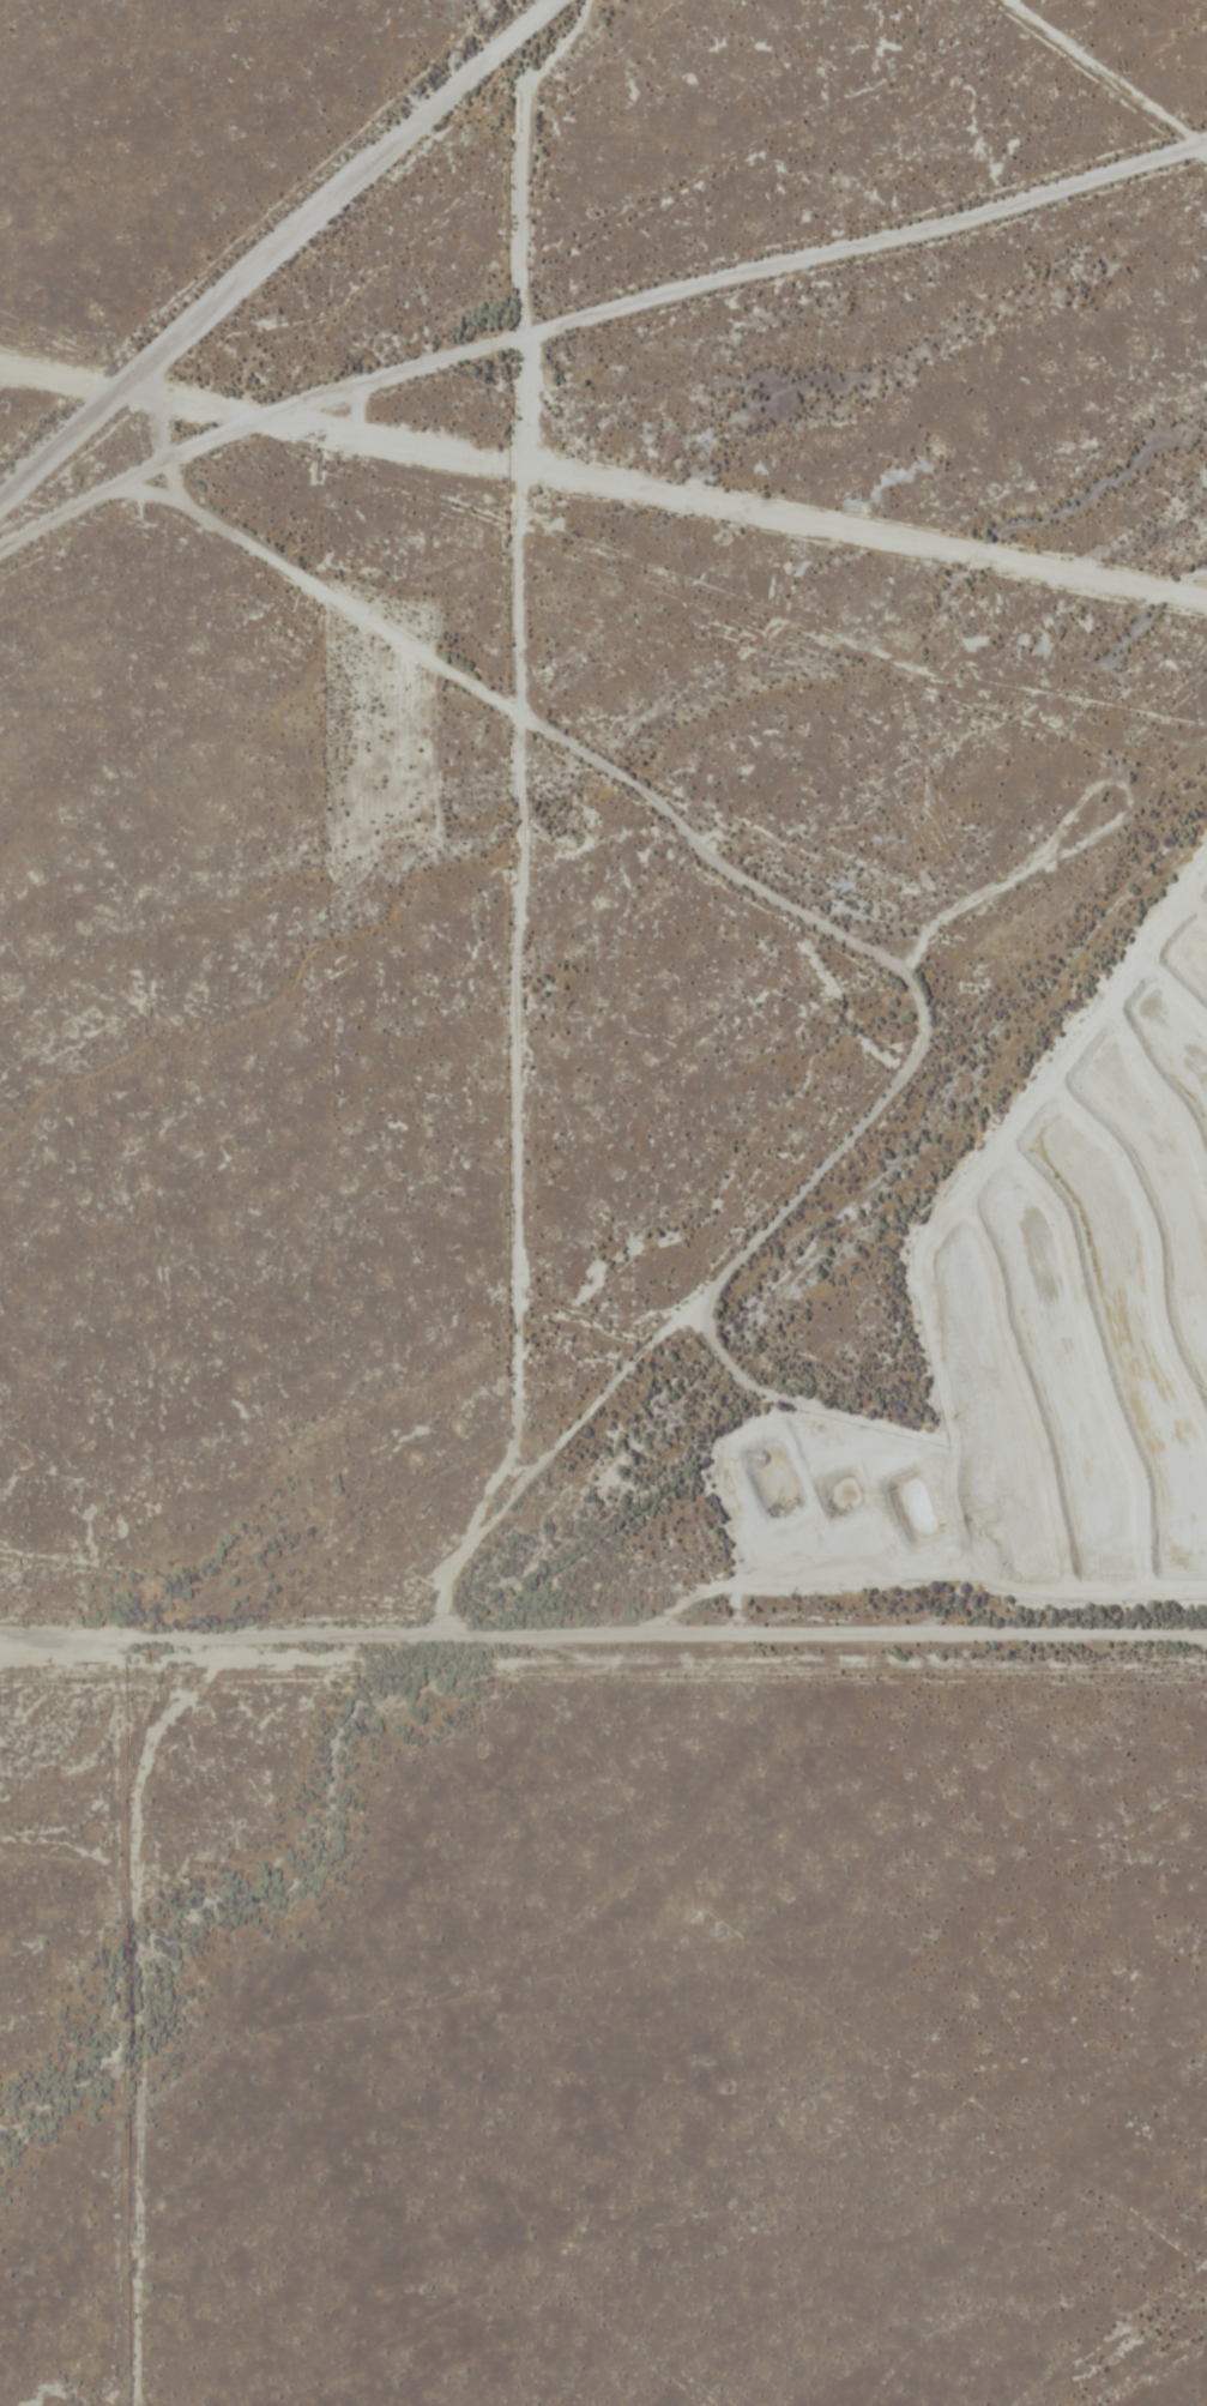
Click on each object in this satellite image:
road: (326, 261)
road: (593, 366)
road: (603, 1675)

